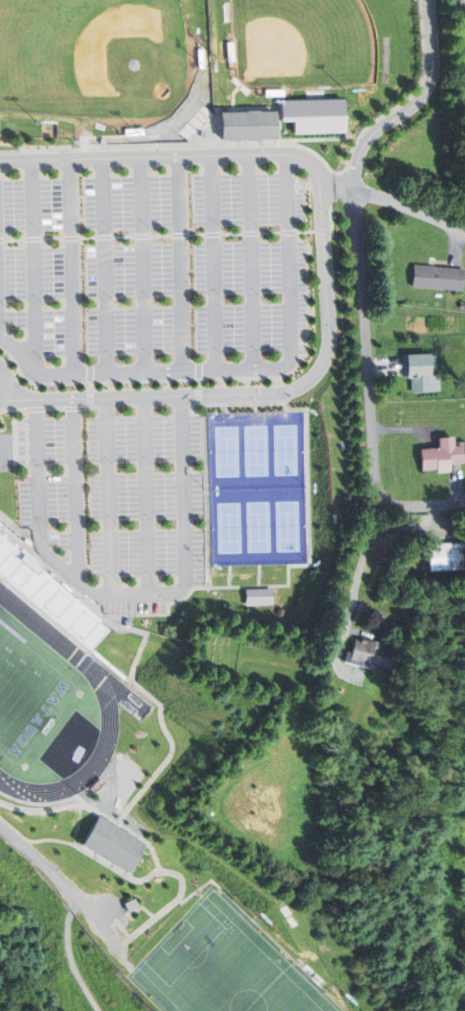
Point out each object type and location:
park: (302, 44)
park: (96, 66)
road: (414, 106)
building: (313, 114)
building: (245, 125)
road: (108, 136)
road: (324, 139)
road: (280, 143)
road: (187, 156)
road: (334, 188)
road: (410, 207)
road: (332, 218)
road: (324, 231)
road: (287, 232)
road: (304, 232)
road: (249, 233)
road: (268, 233)
road: (211, 234)
road: (230, 234)
road: (178, 235)
road: (195, 235)
road: (140, 236)
road: (160, 236)
road: (87, 237)
road: (103, 237)
road: (121, 237)
road: (51, 238)
road: (70, 238)
road: (13, 239)
road: (31, 239)
road: (1, 240)
road: (31, 260)
road: (180, 262)
road: (213, 262)
road: (249, 262)
road: (141, 264)
road: (104, 265)
road: (71, 266)
building: (437, 277)
parking lot: (150, 279)
road: (237, 369)
building: (419, 372)
road: (152, 380)
road: (199, 383)
road: (0, 385)
road: (91, 386)
road: (368, 387)
road: (255, 394)
road: (200, 396)
road: (91, 399)
road: (164, 405)
road: (185, 405)
road: (145, 406)
road: (106, 407)
road: (126, 407)
road: (73, 408)
road: (90, 408)
road: (37, 409)
road: (55, 409)
road: (13, 410)
building: (440, 455)
road: (309, 484)
road: (76, 489)
park: (254, 489)
road: (206, 495)
road: (110, 496)
road: (148, 496)
parking lot: (112, 507)
road: (13, 524)
building: (445, 556)
road: (363, 560)
building: (14, 562)
road: (231, 576)
road: (261, 576)
building: (260, 596)
road: (127, 597)
road: (172, 609)
road: (120, 619)
park: (218, 651)
building: (367, 652)
road: (144, 653)
park: (25, 695)
track: (52, 710)
road: (45, 803)
road: (43, 812)
road: (103, 815)
building: (110, 845)
road: (36, 867)
road: (131, 878)
park: (31, 941)
road: (71, 958)
park: (221, 967)
building: (183, 1008)

